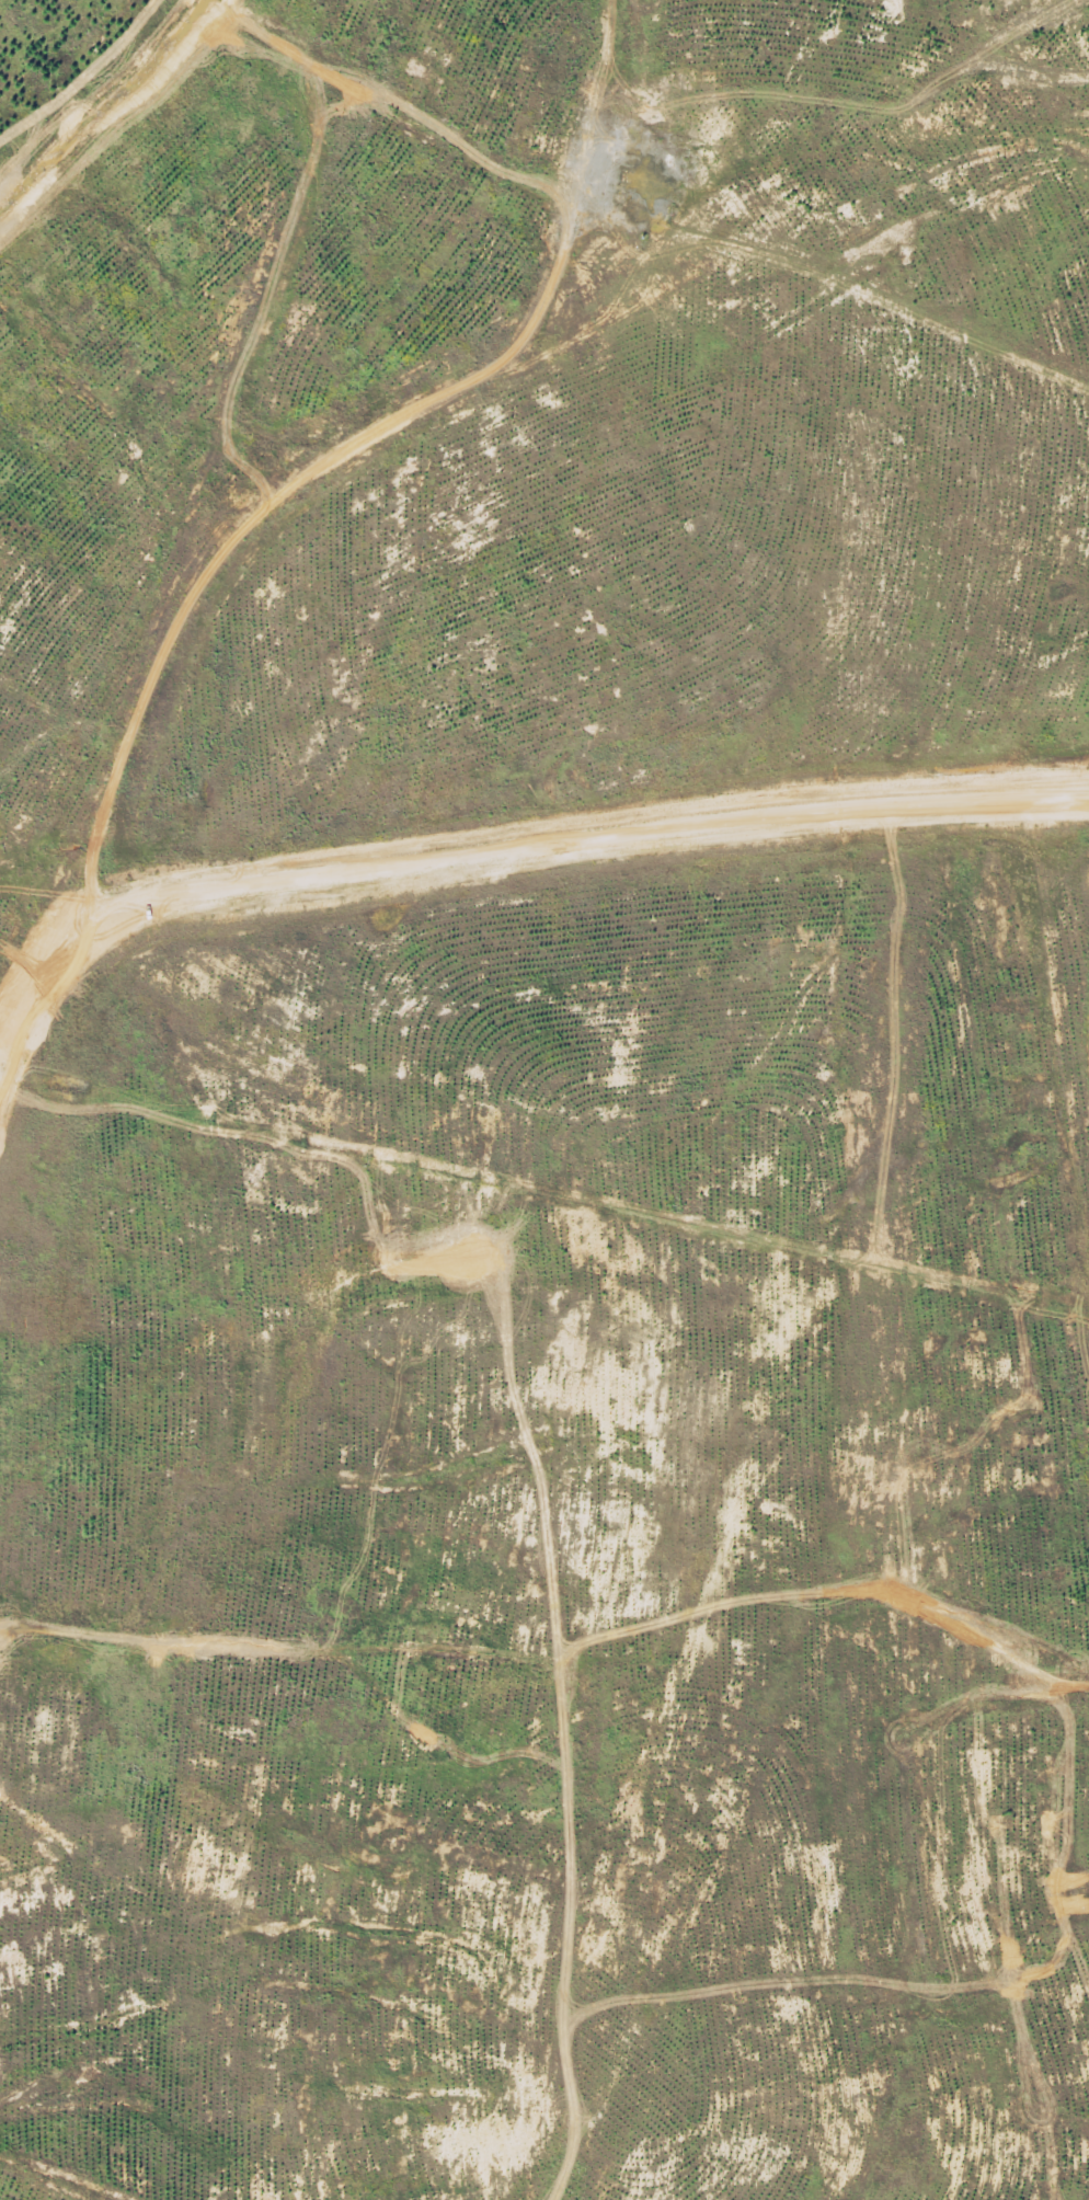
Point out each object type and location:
road: (131, 744)

